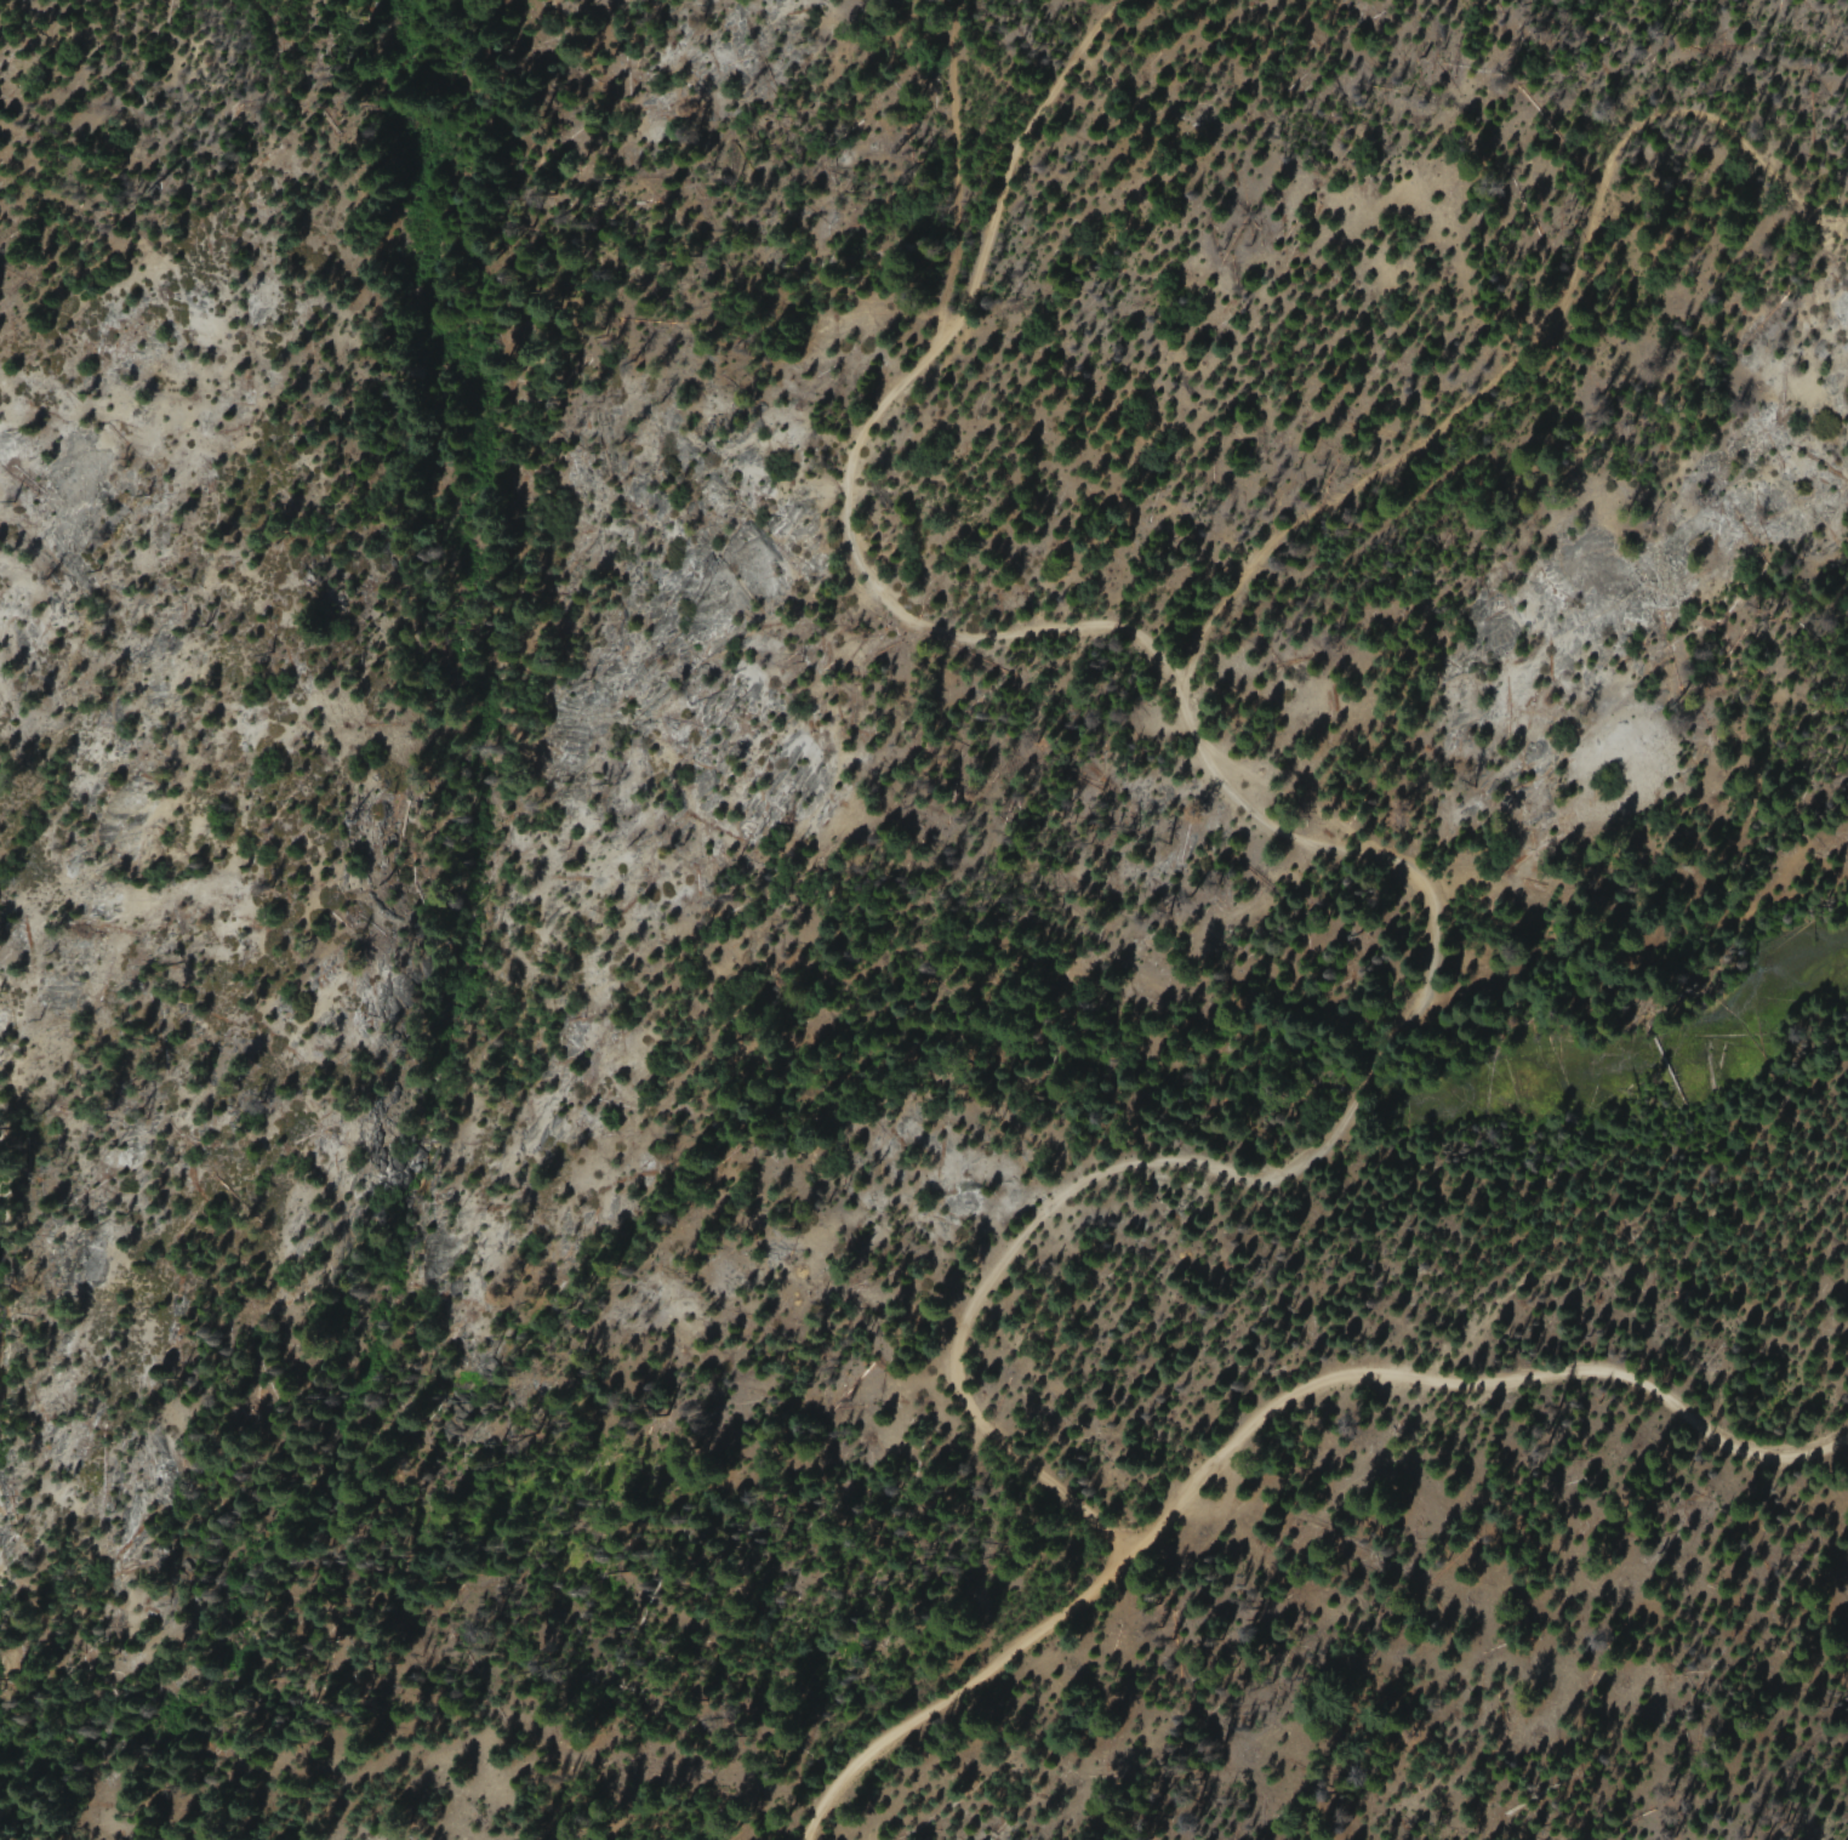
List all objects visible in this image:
road: (1266, 824)
road: (1473, 1384)
road: (963, 1684)

